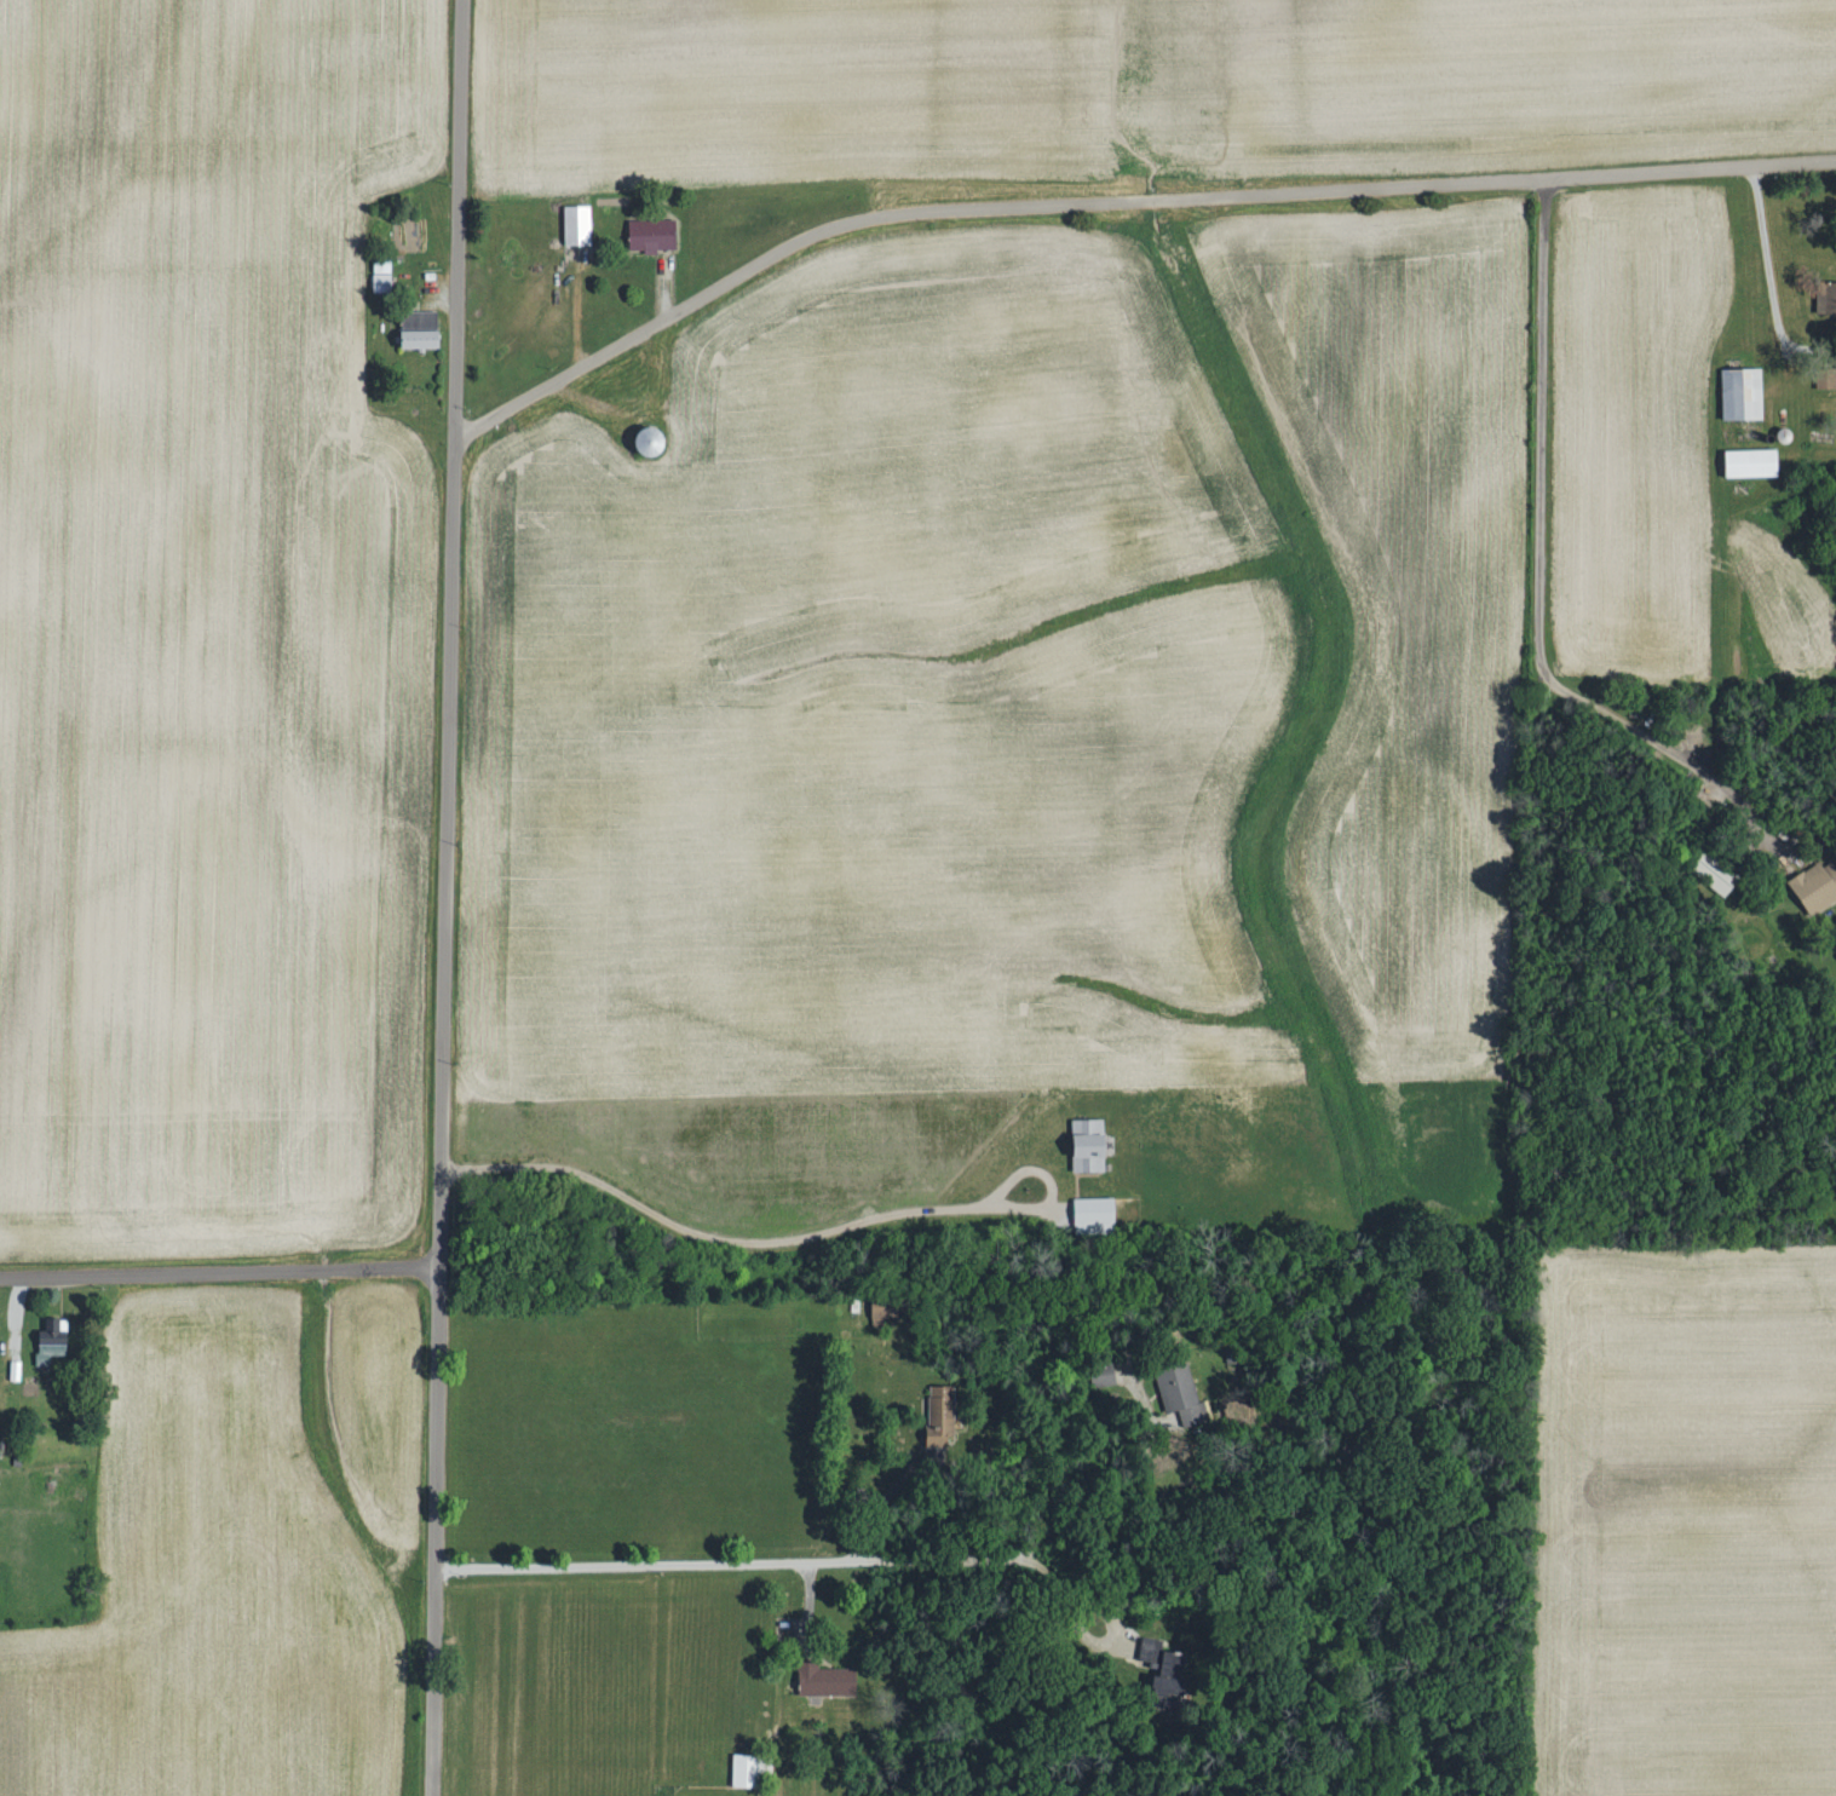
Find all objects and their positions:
road: (1118, 197)
building: (577, 224)
building: (654, 234)
road: (1763, 253)
building: (382, 274)
building: (1829, 298)
building: (421, 315)
building: (420, 336)
building: (1743, 392)
building: (1752, 461)
road: (1543, 578)
road: (451, 632)
building: (1817, 885)
building: (1089, 1144)
building: (1095, 1210)
road: (795, 1242)
road: (220, 1270)
building: (886, 1307)
building: (53, 1341)
building: (1181, 1393)
building: (943, 1406)
road: (1099, 1487)
road: (882, 1501)
road: (436, 1530)
road: (731, 1562)
road: (1082, 1589)
building: (827, 1680)
building: (750, 1769)

